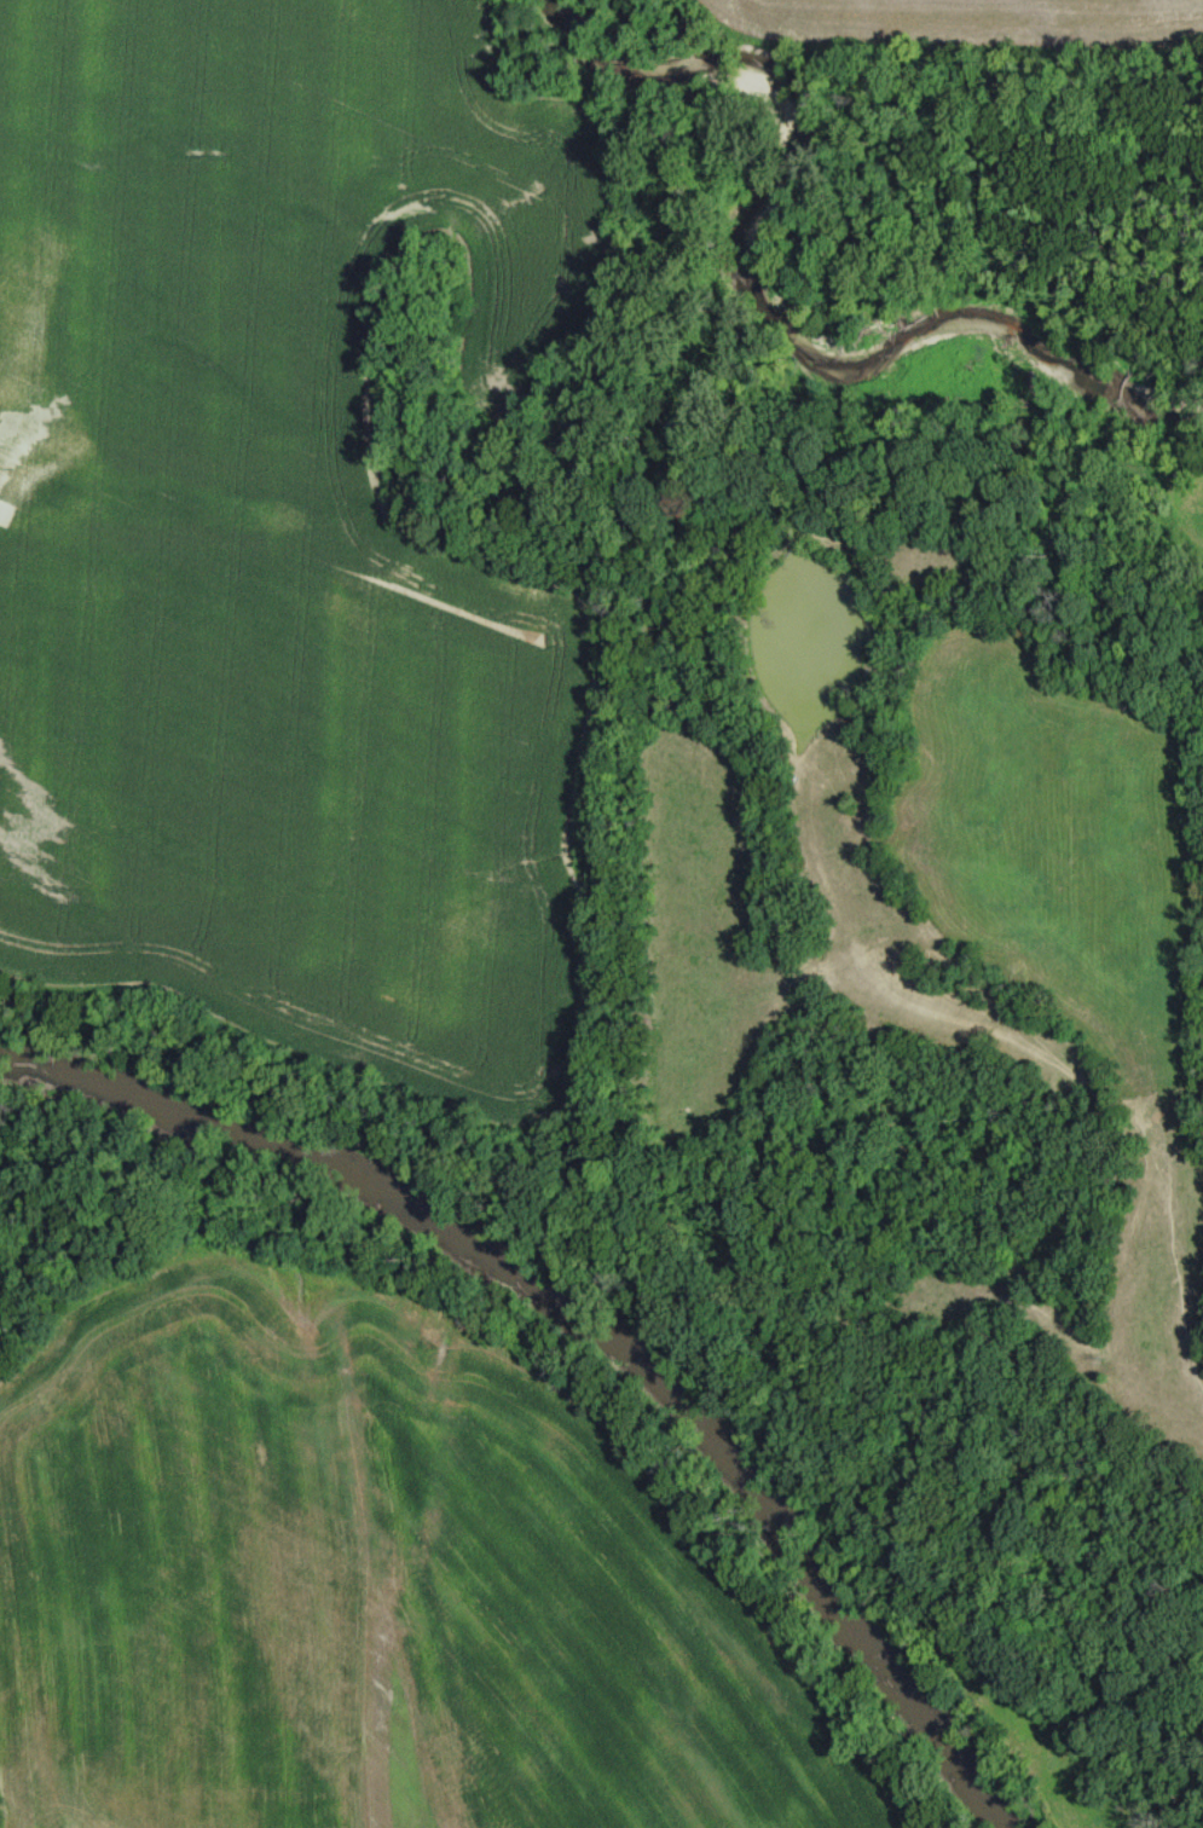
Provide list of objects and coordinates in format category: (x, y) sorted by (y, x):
river: (596, 1320)

